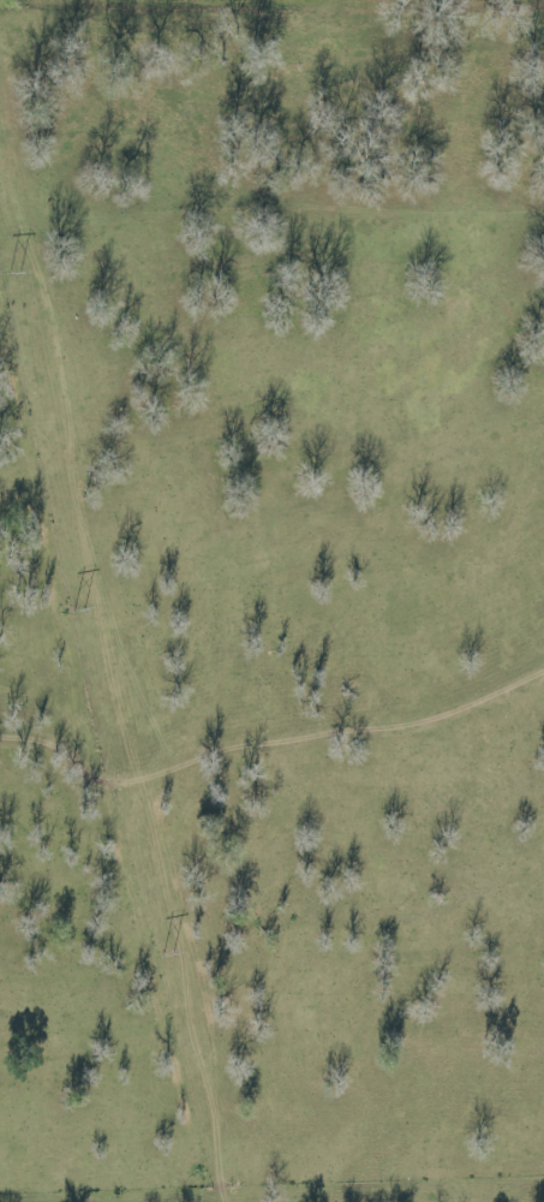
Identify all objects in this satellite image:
road: (14, 26)
power tower: (12, 274)
power tower: (78, 612)
power tower: (167, 957)

